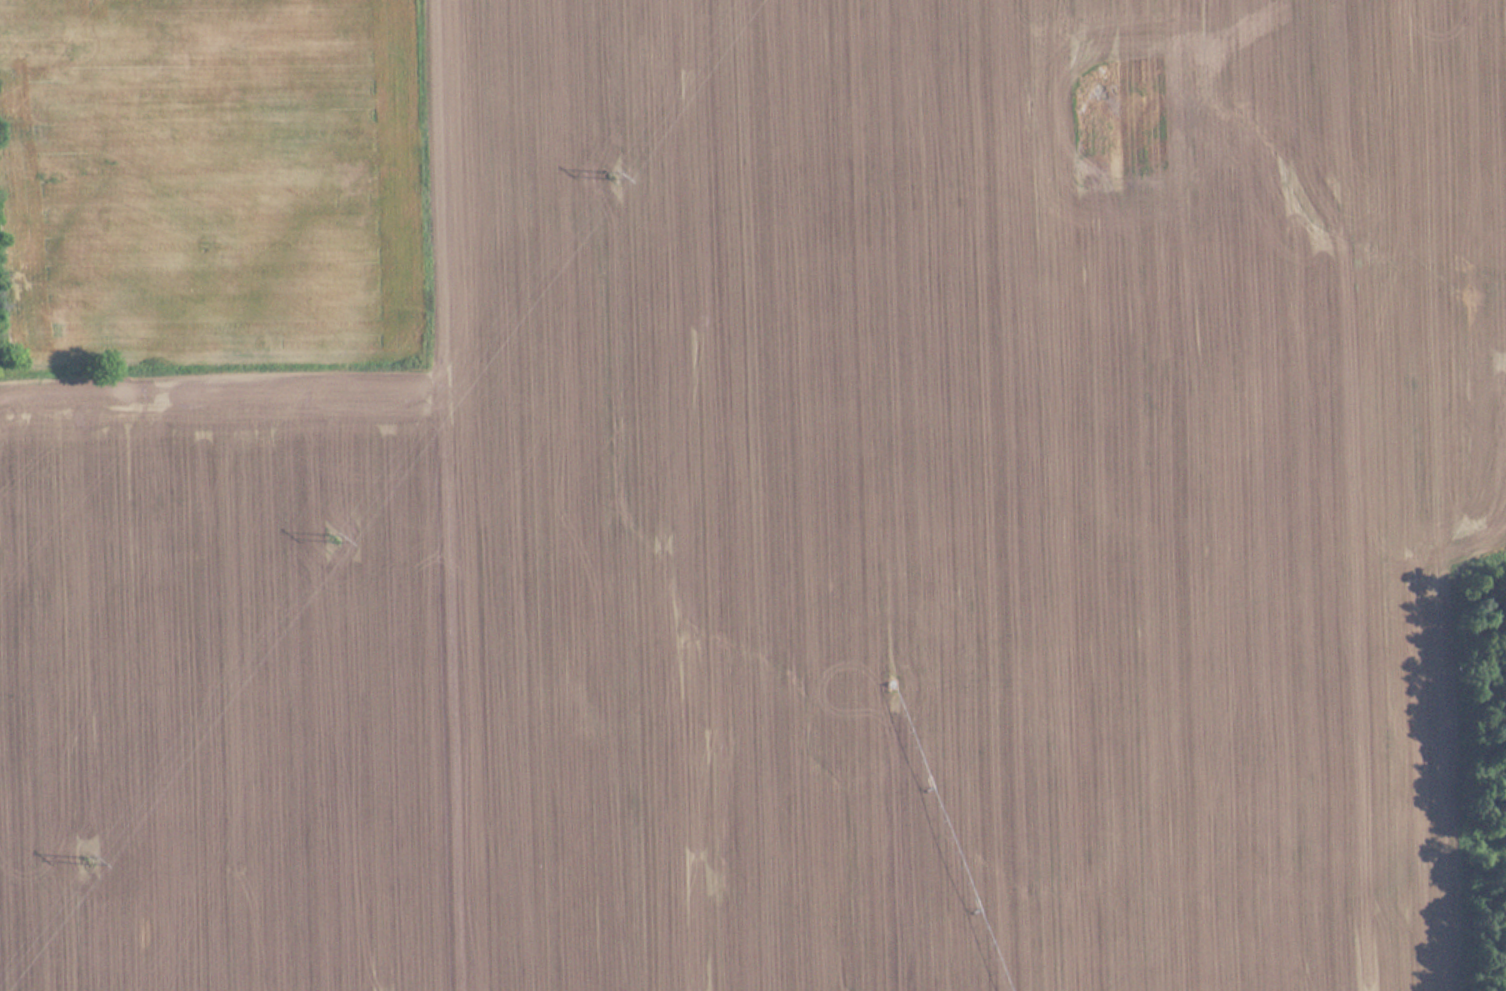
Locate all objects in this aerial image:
power tower: (612, 171)
power tower: (338, 539)
power tower: (91, 862)

